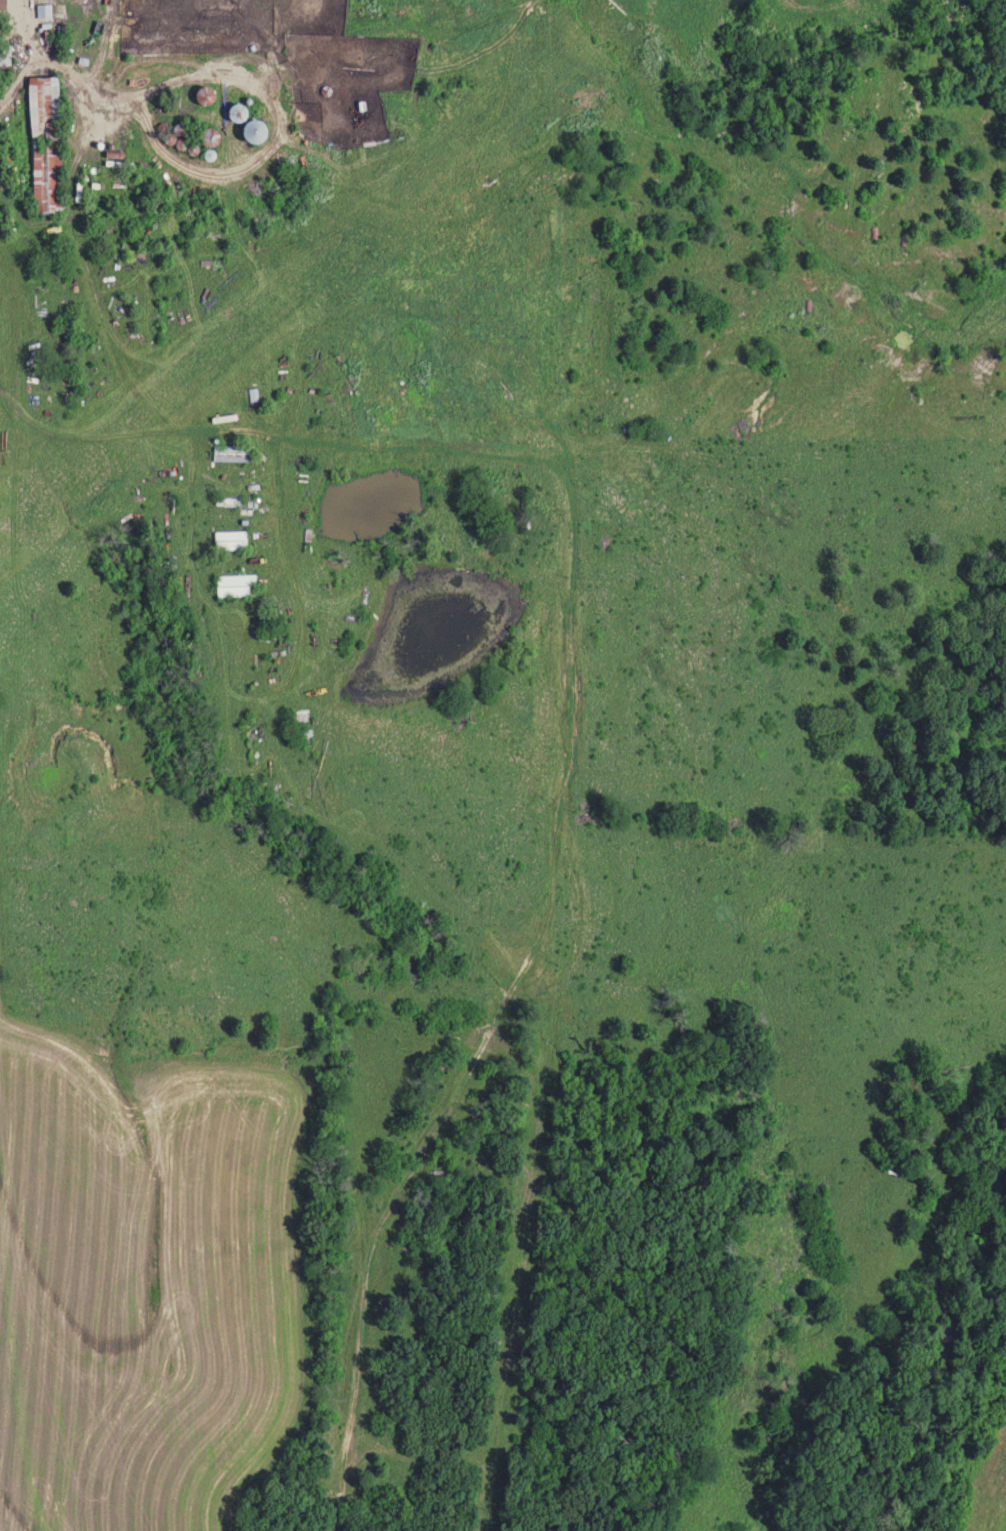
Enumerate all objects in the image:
building: (41, 12)
road: (31, 57)
road: (74, 81)
building: (201, 95)
building: (232, 112)
building: (247, 130)
building: (205, 136)
building: (41, 145)
building: (204, 154)
building: (282, 163)
building: (230, 453)
building: (227, 541)
building: (233, 586)

